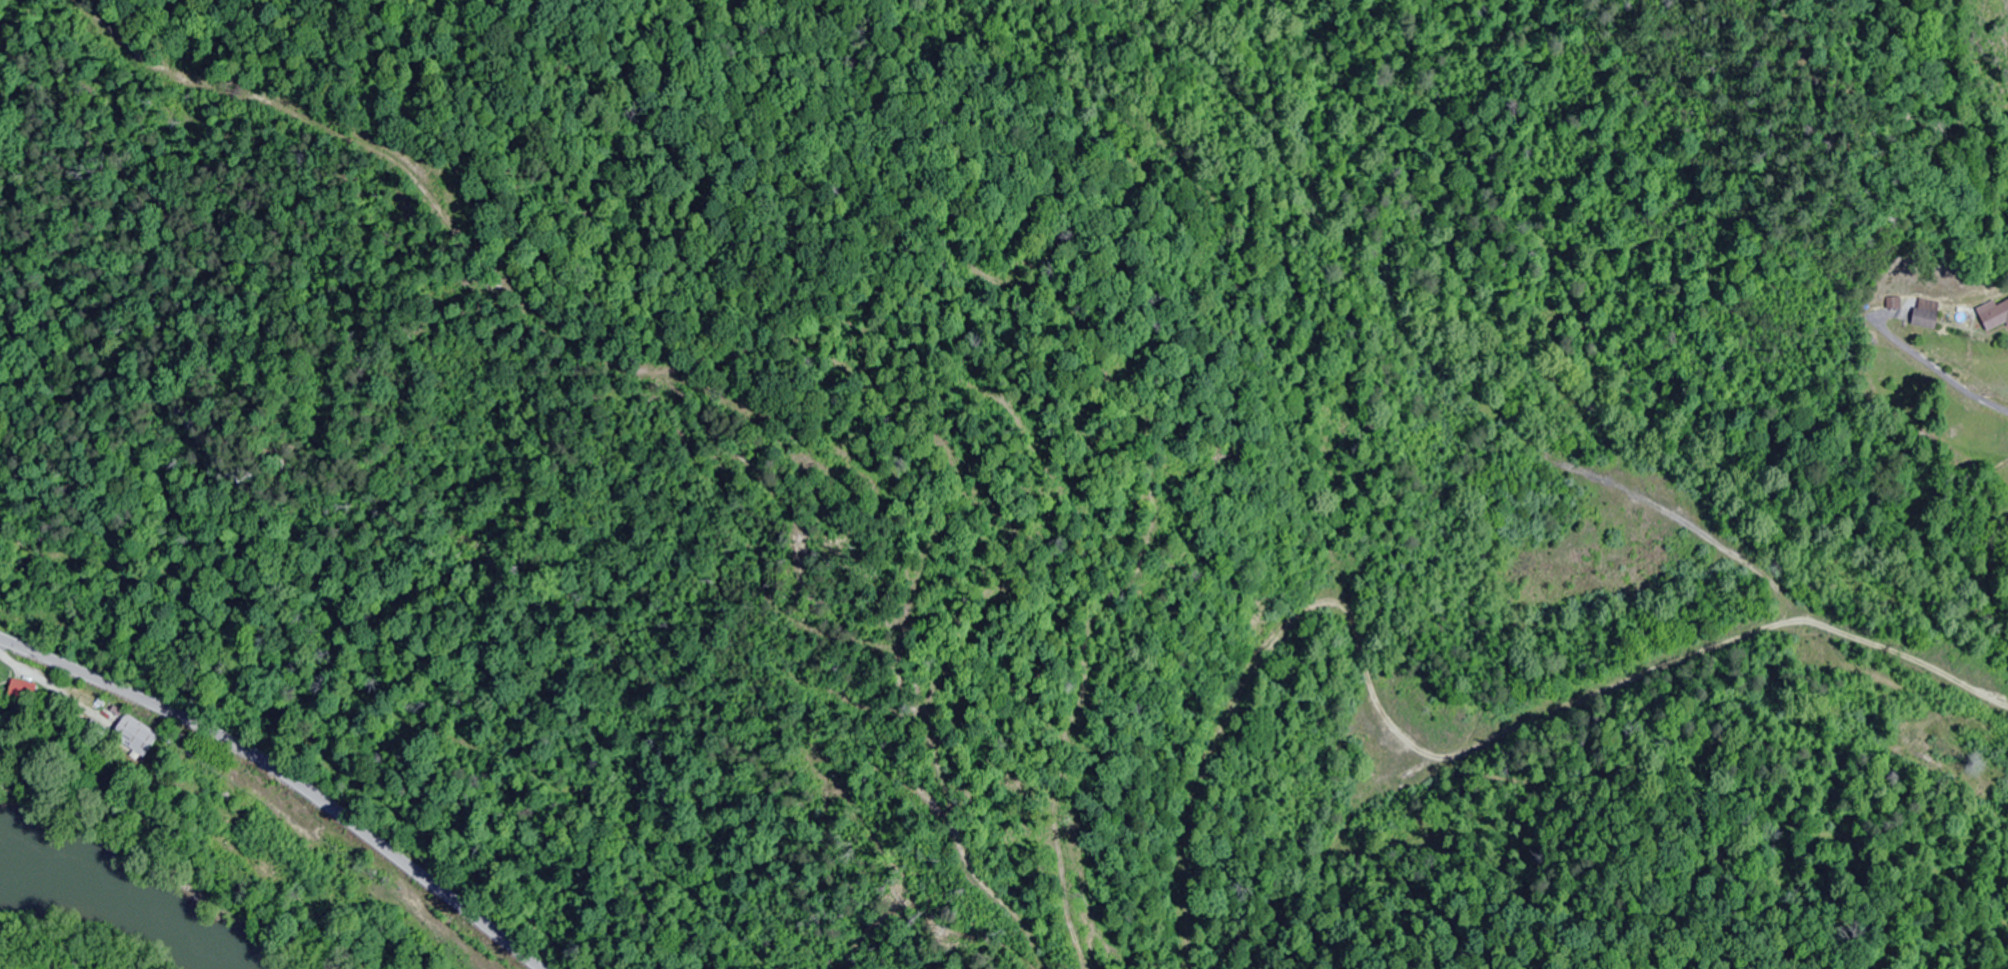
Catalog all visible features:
building: (1894, 303)
building: (1994, 317)
building: (1925, 319)
building: (22, 690)
building: (136, 735)
road: (286, 776)
river: (14, 874)
river: (138, 904)

